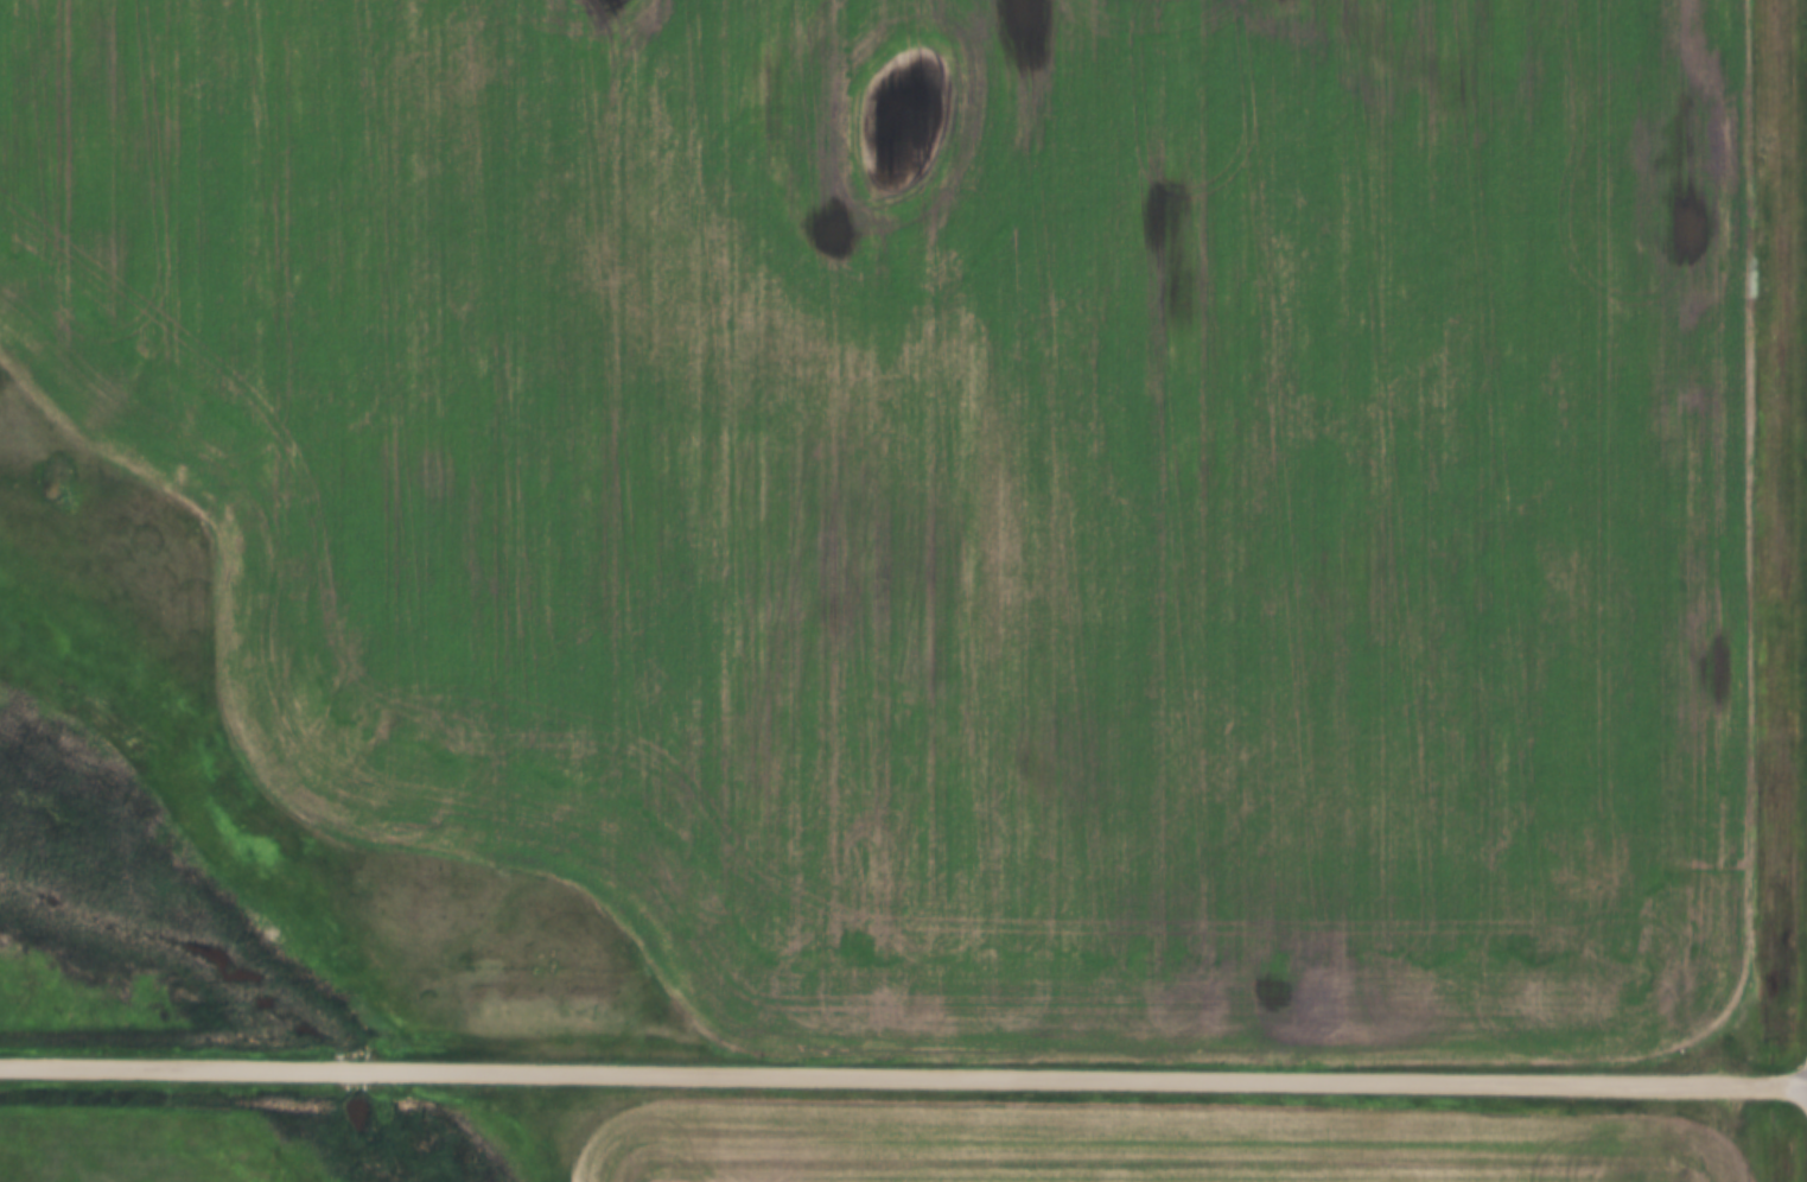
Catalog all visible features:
road: (903, 1070)

